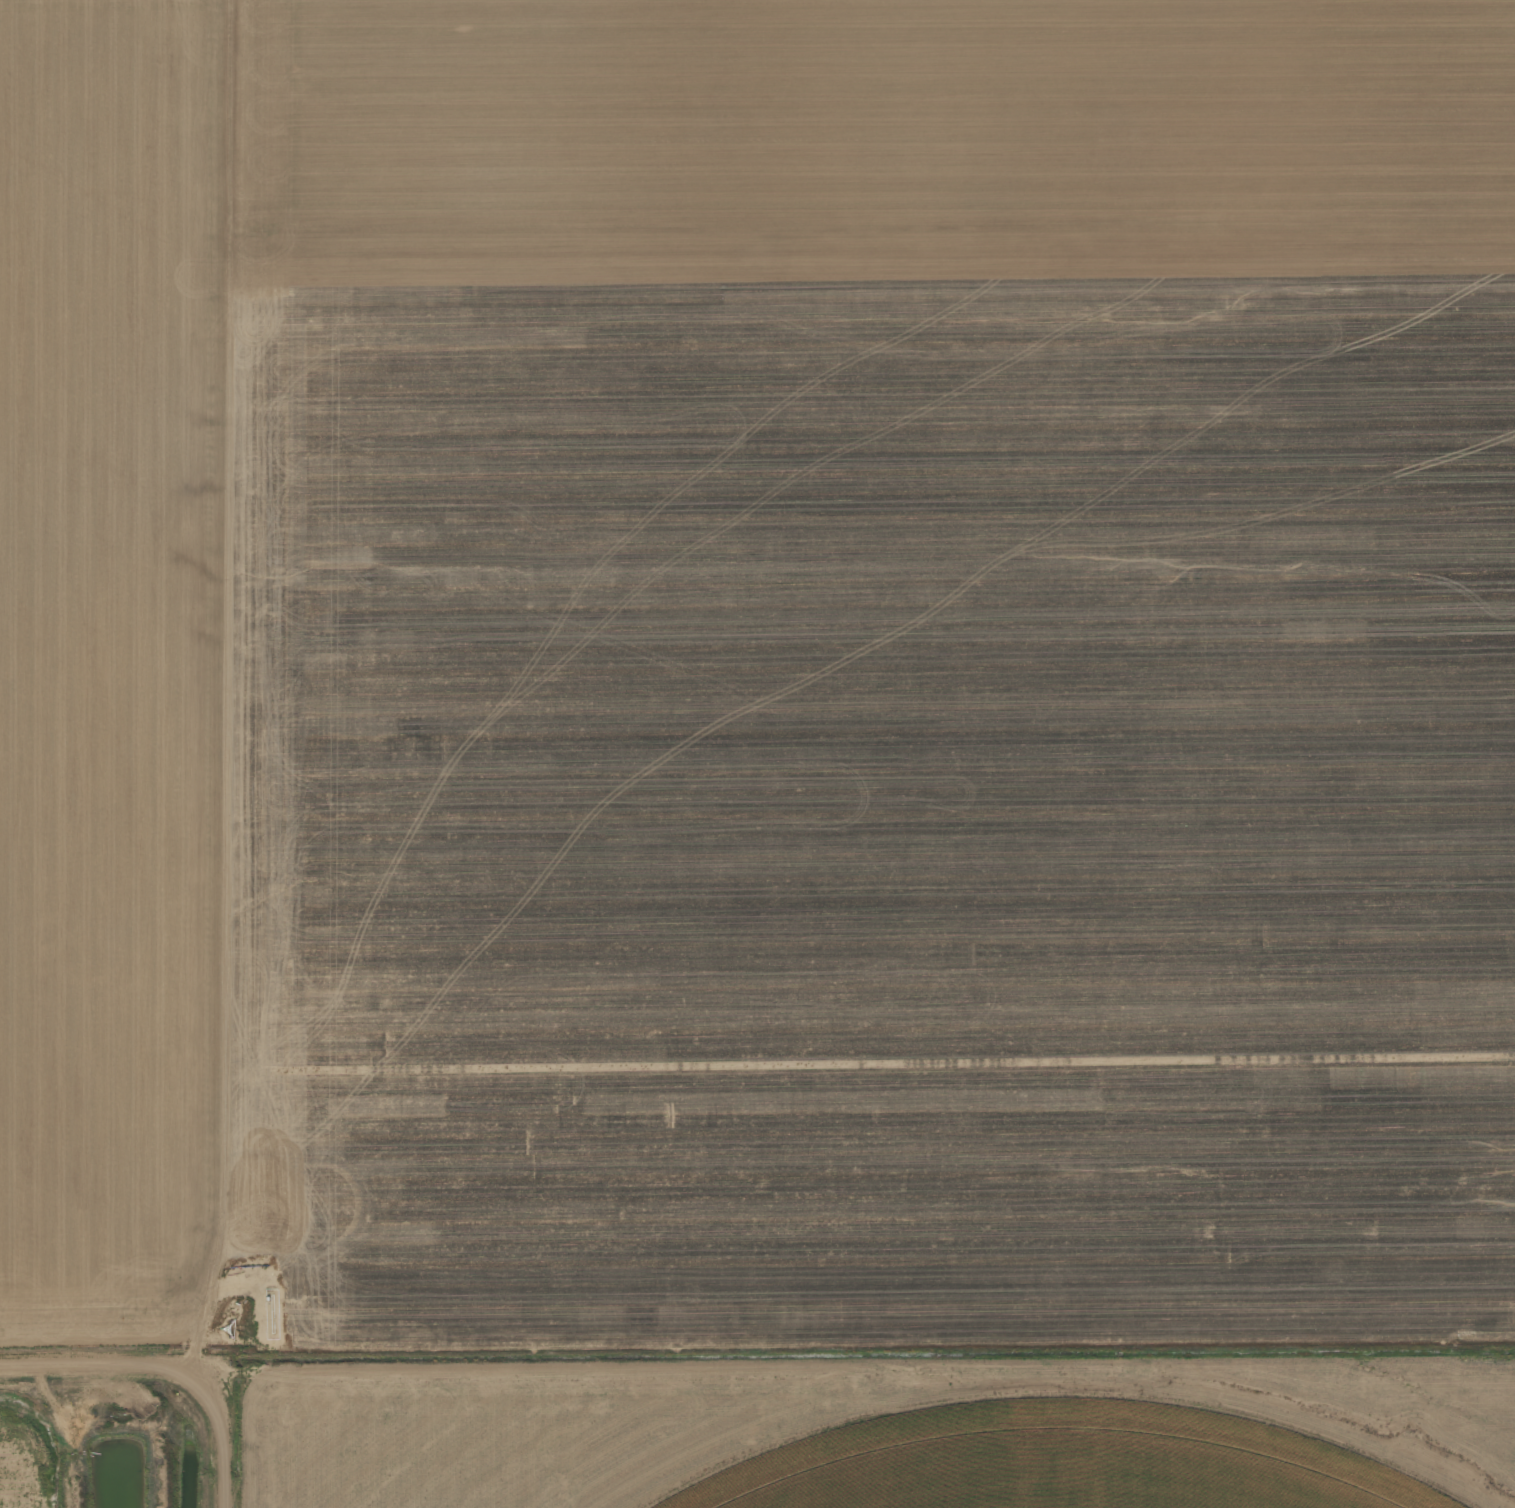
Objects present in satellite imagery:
road: (94, 1361)
road: (222, 1436)

